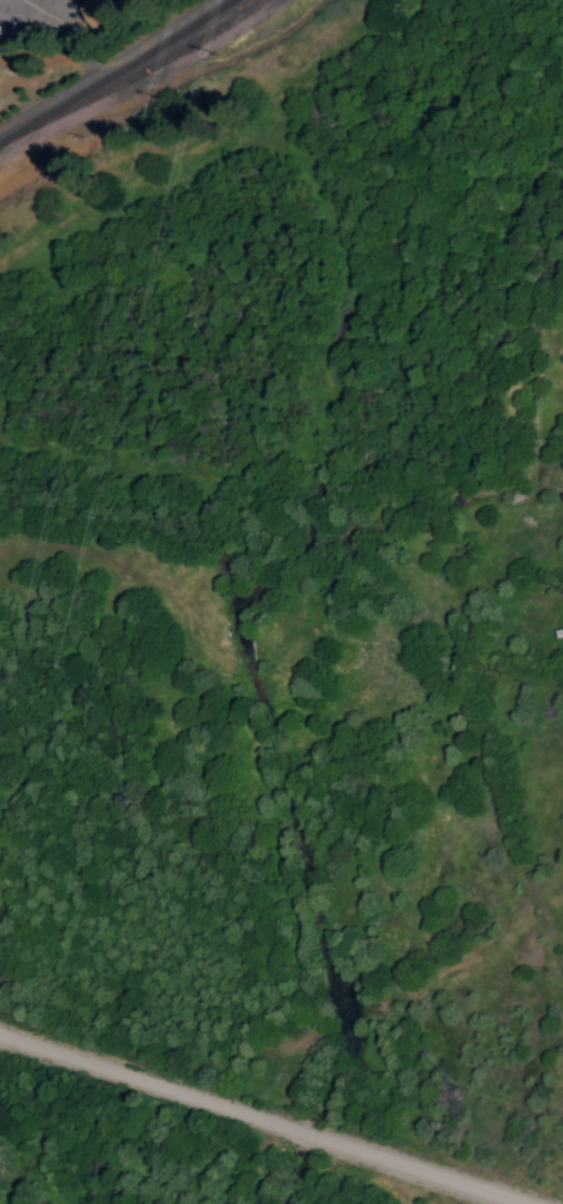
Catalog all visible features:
building: (111, 8)
railway: (113, 72)
railway: (135, 79)
road: (271, 1119)

